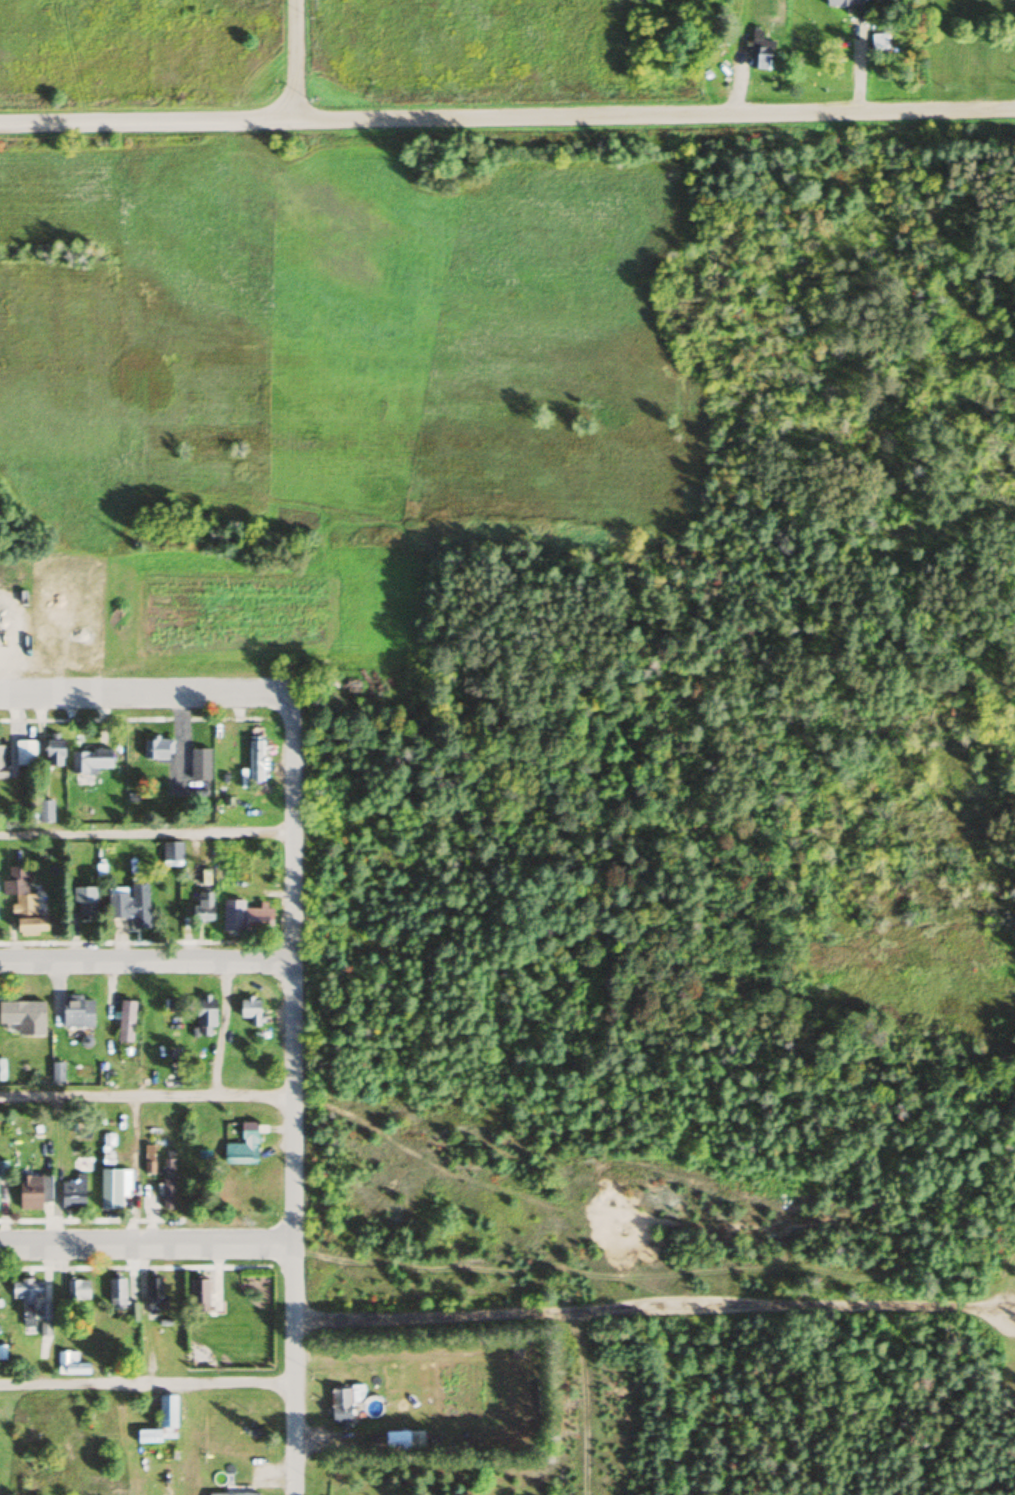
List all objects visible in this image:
building: (843, 3)
building: (760, 53)
road: (292, 60)
road: (653, 113)
road: (146, 122)
road: (140, 693)
building: (157, 749)
building: (25, 753)
building: (54, 753)
building: (255, 760)
building: (1, 761)
building: (91, 761)
building: (199, 765)
building: (44, 811)
road: (145, 833)
building: (23, 900)
building: (84, 900)
building: (131, 903)
building: (202, 908)
building: (245, 917)
road: (144, 960)
building: (250, 1009)
building: (77, 1010)
building: (205, 1010)
building: (24, 1016)
building: (126, 1019)
road: (290, 1095)
road: (145, 1097)
building: (243, 1146)
building: (167, 1183)
building: (113, 1186)
building: (33, 1190)
building: (73, 1193)
road: (144, 1243)
building: (77, 1289)
building: (116, 1291)
building: (155, 1292)
building: (199, 1294)
building: (32, 1304)
road: (652, 1308)
building: (70, 1363)
road: (145, 1383)
building: (340, 1405)
road: (741, 1412)
building: (167, 1416)
building: (26, 1480)
building: (233, 1493)

